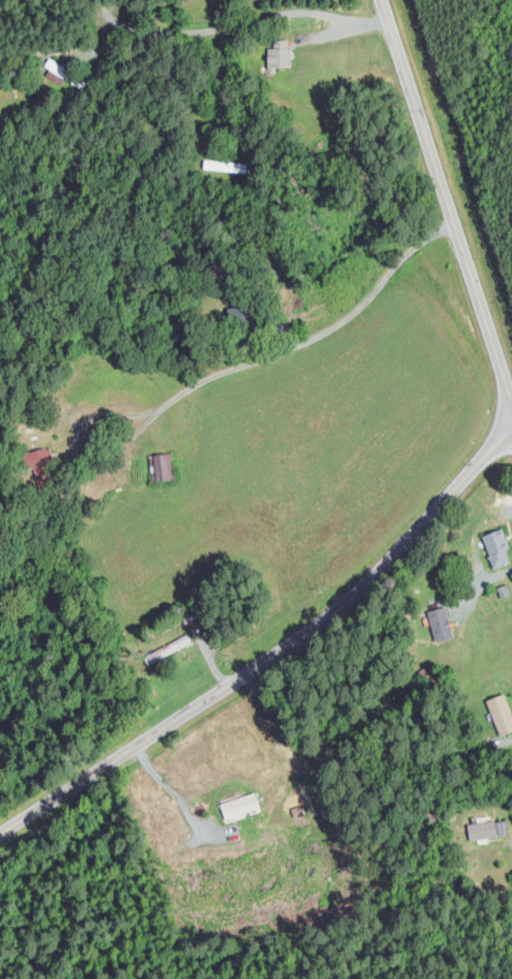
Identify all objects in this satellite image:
road: (263, 17)
building: (279, 54)
building: (225, 165)
road: (447, 200)
road: (209, 377)
building: (37, 463)
building: (163, 466)
building: (496, 546)
building: (503, 590)
building: (440, 623)
road: (273, 651)
building: (500, 713)
road: (509, 739)
road: (172, 785)
building: (240, 806)
building: (486, 827)

